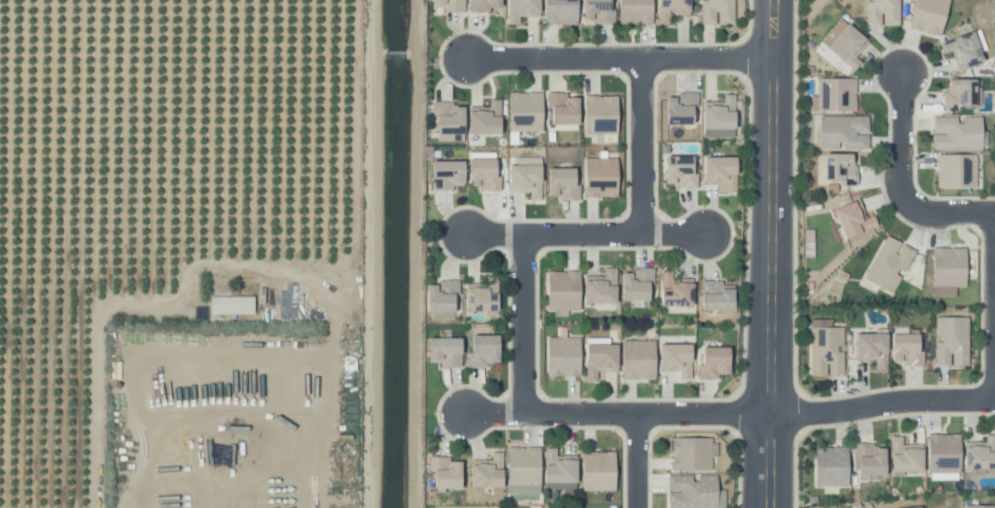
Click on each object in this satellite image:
building: (455, 5)
building: (488, 5)
building: (526, 10)
building: (675, 10)
building: (601, 12)
building: (564, 13)
building: (638, 13)
building: (927, 16)
building: (710, 19)
building: (890, 19)
building: (846, 47)
building: (962, 51)
road: (613, 59)
building: (958, 95)
building: (835, 96)
building: (569, 109)
building: (684, 111)
building: (530, 113)
building: (722, 116)
building: (603, 117)
building: (455, 118)
building: (491, 120)
building: (842, 133)
building: (956, 134)
road: (896, 141)
road: (636, 147)
building: (838, 171)
building: (955, 171)
building: (724, 174)
building: (684, 175)
building: (487, 177)
building: (450, 178)
building: (604, 180)
building: (528, 183)
building: (566, 187)
road: (945, 218)
building: (844, 222)
road: (582, 236)
building: (807, 244)
road: (773, 253)
building: (888, 265)
building: (947, 271)
building: (640, 288)
building: (603, 291)
building: (565, 293)
building: (678, 294)
building: (445, 298)
building: (720, 299)
building: (485, 301)
building: (234, 307)
road: (990, 308)
road: (520, 325)
building: (953, 343)
building: (873, 350)
building: (908, 351)
building: (448, 352)
building: (827, 353)
building: (486, 355)
building: (566, 359)
building: (641, 362)
building: (604, 363)
building: (680, 363)
building: (717, 366)
road: (732, 413)
building: (695, 455)
building: (945, 455)
building: (980, 458)
road: (634, 460)
building: (907, 460)
building: (869, 462)
building: (526, 468)
building: (832, 468)
building: (562, 471)
building: (601, 473)
building: (490, 476)
building: (450, 478)
building: (695, 492)
road: (251, 496)
building: (979, 506)
building: (915, 507)

